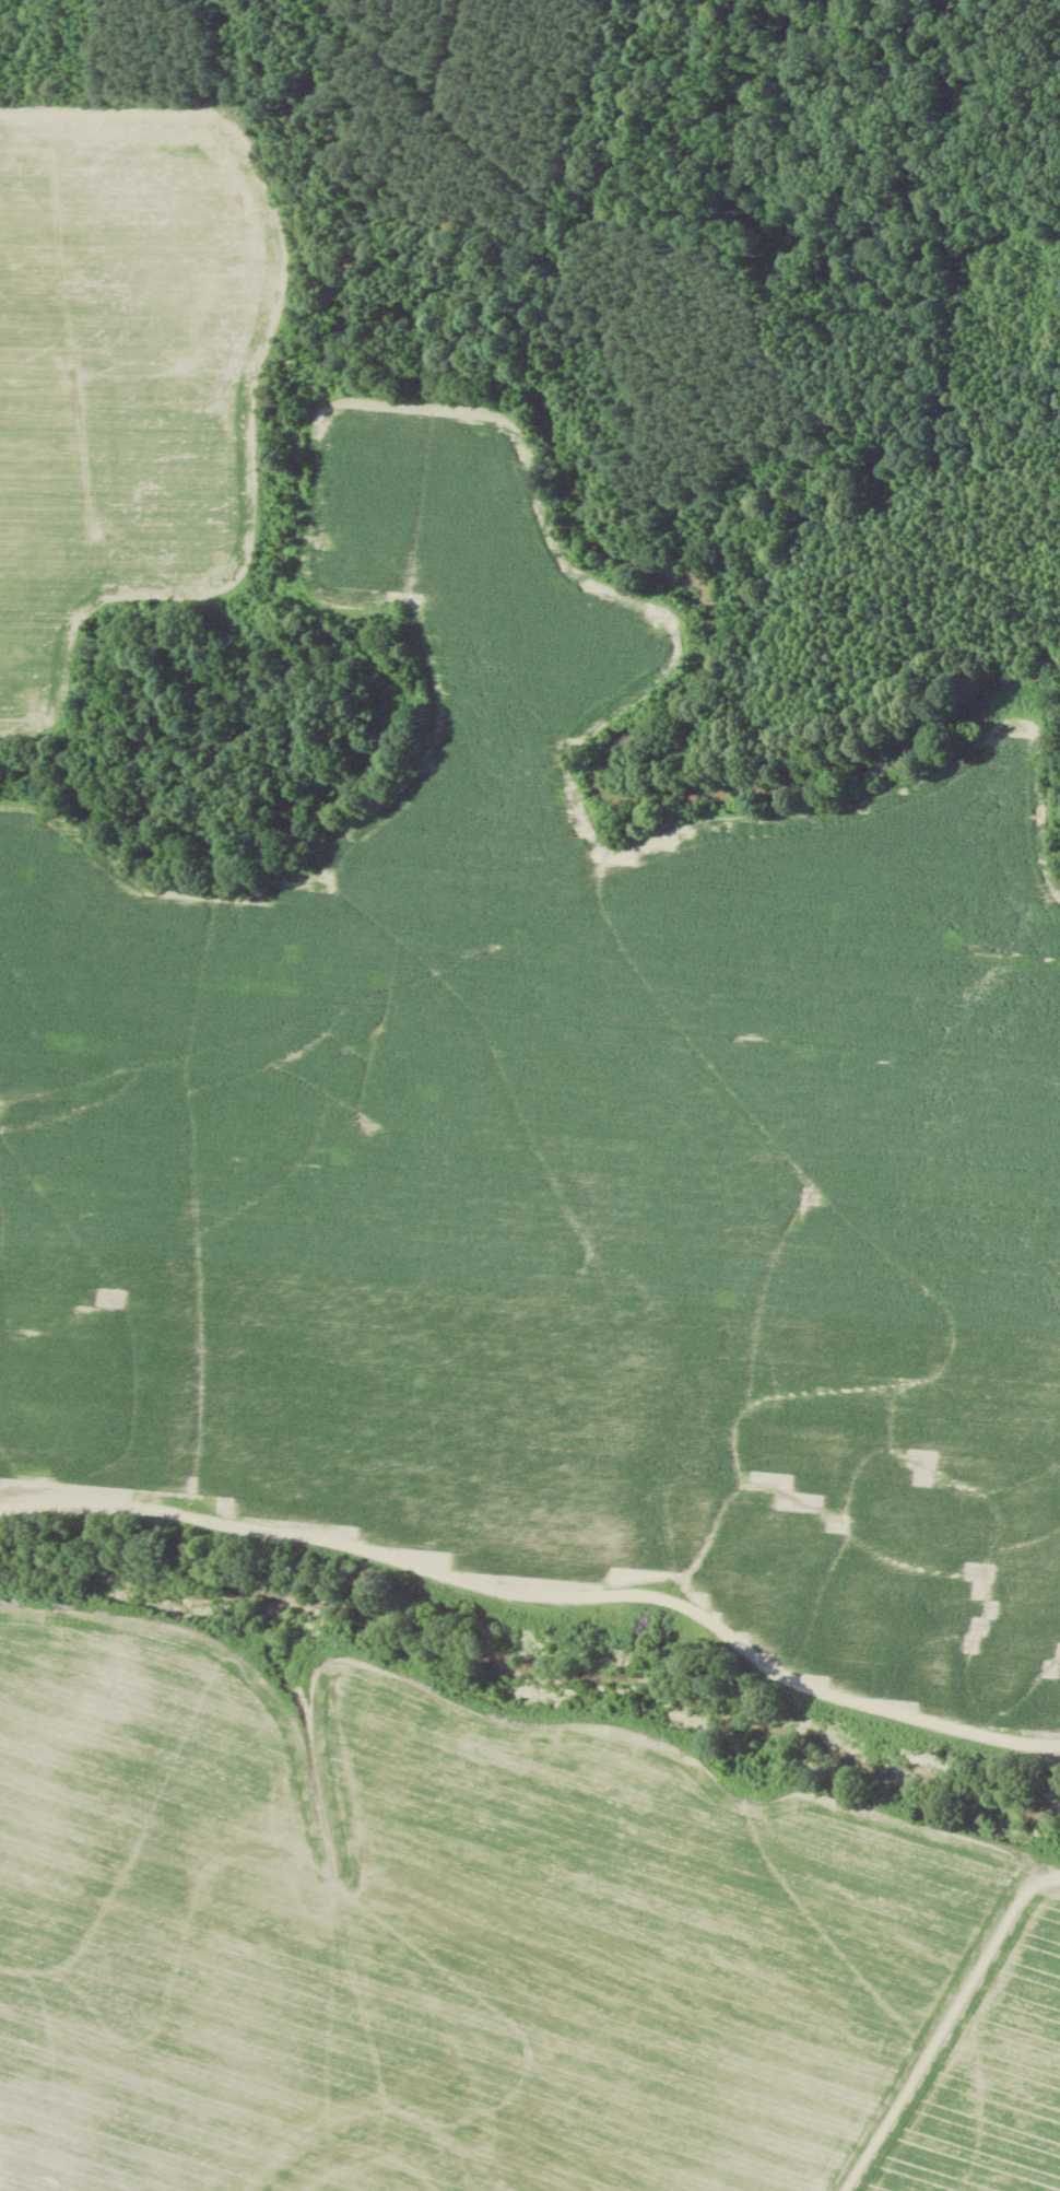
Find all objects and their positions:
road: (963, 2013)

